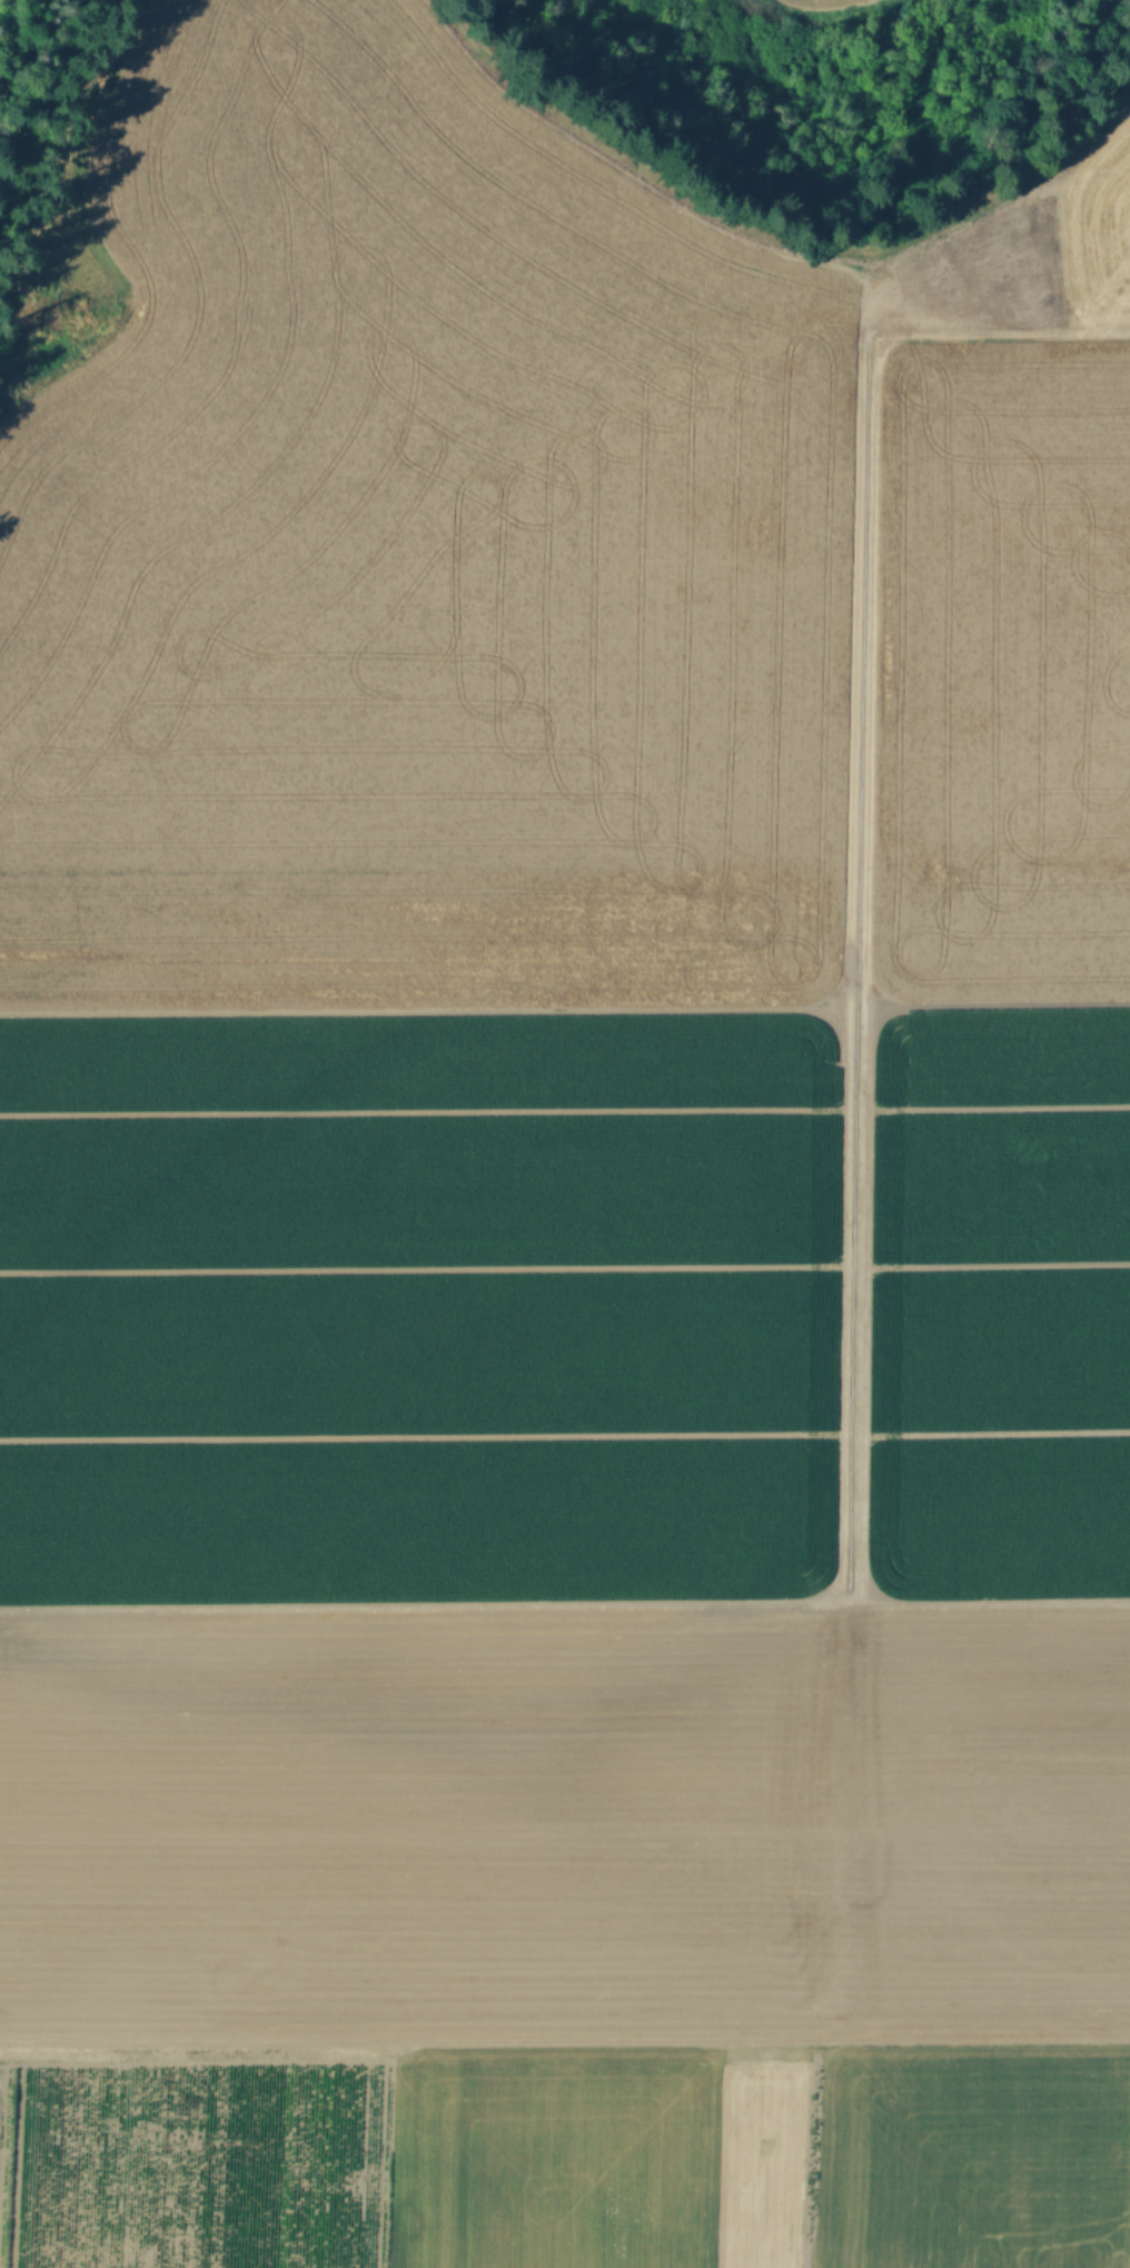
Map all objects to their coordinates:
road: (861, 1186)

